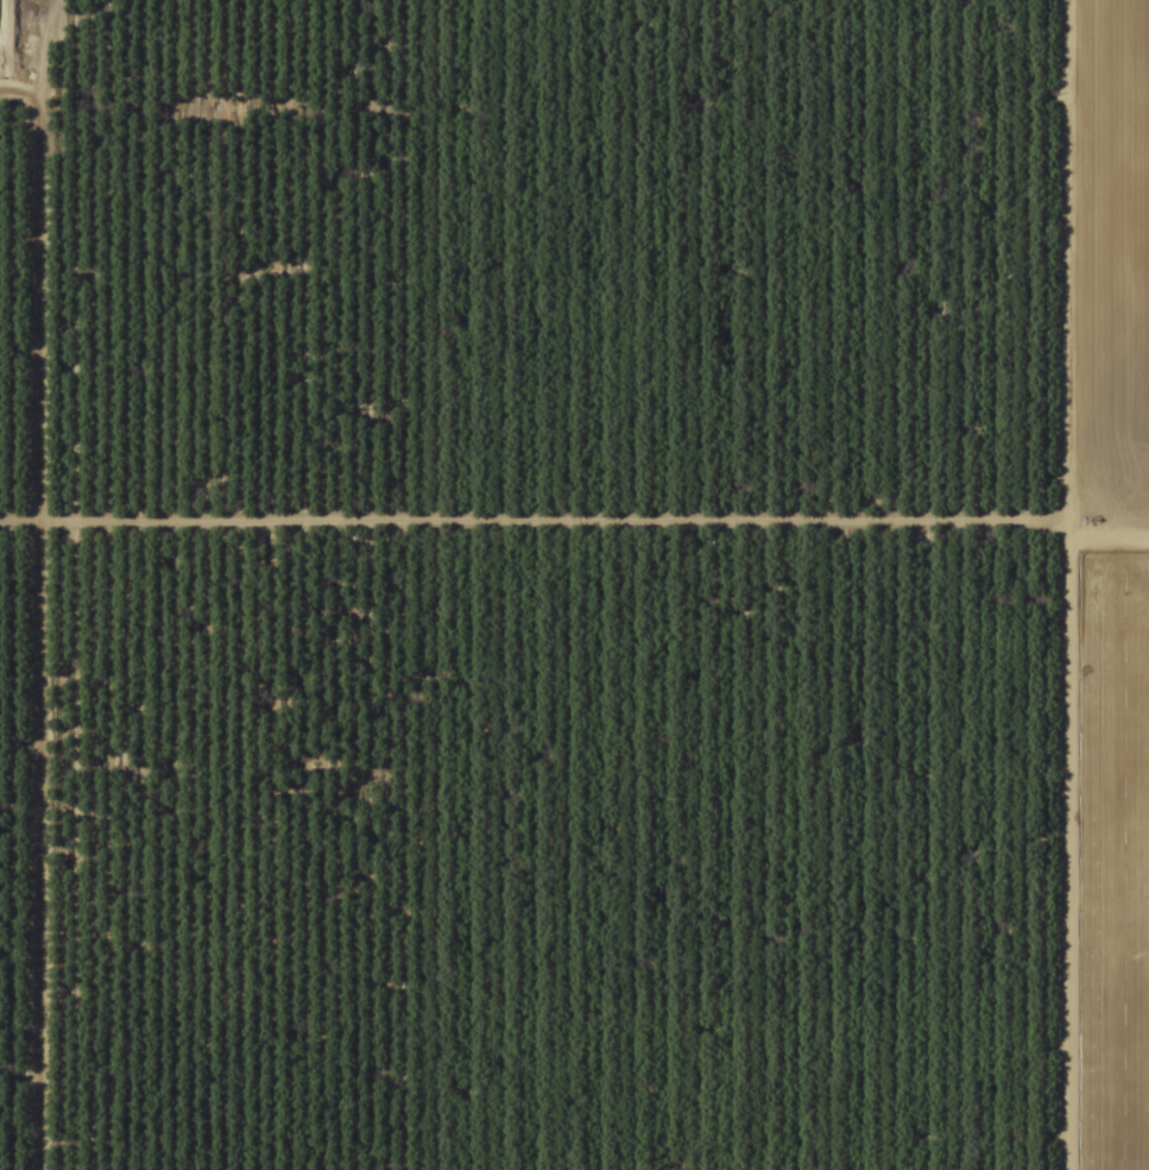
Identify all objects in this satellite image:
road: (1058, 585)

